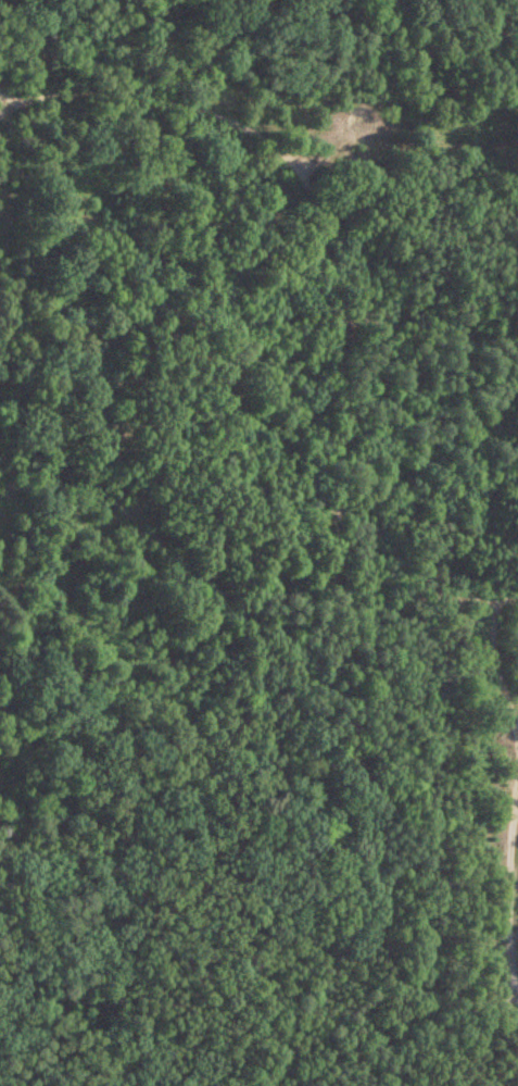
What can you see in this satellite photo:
road: (337, 447)

